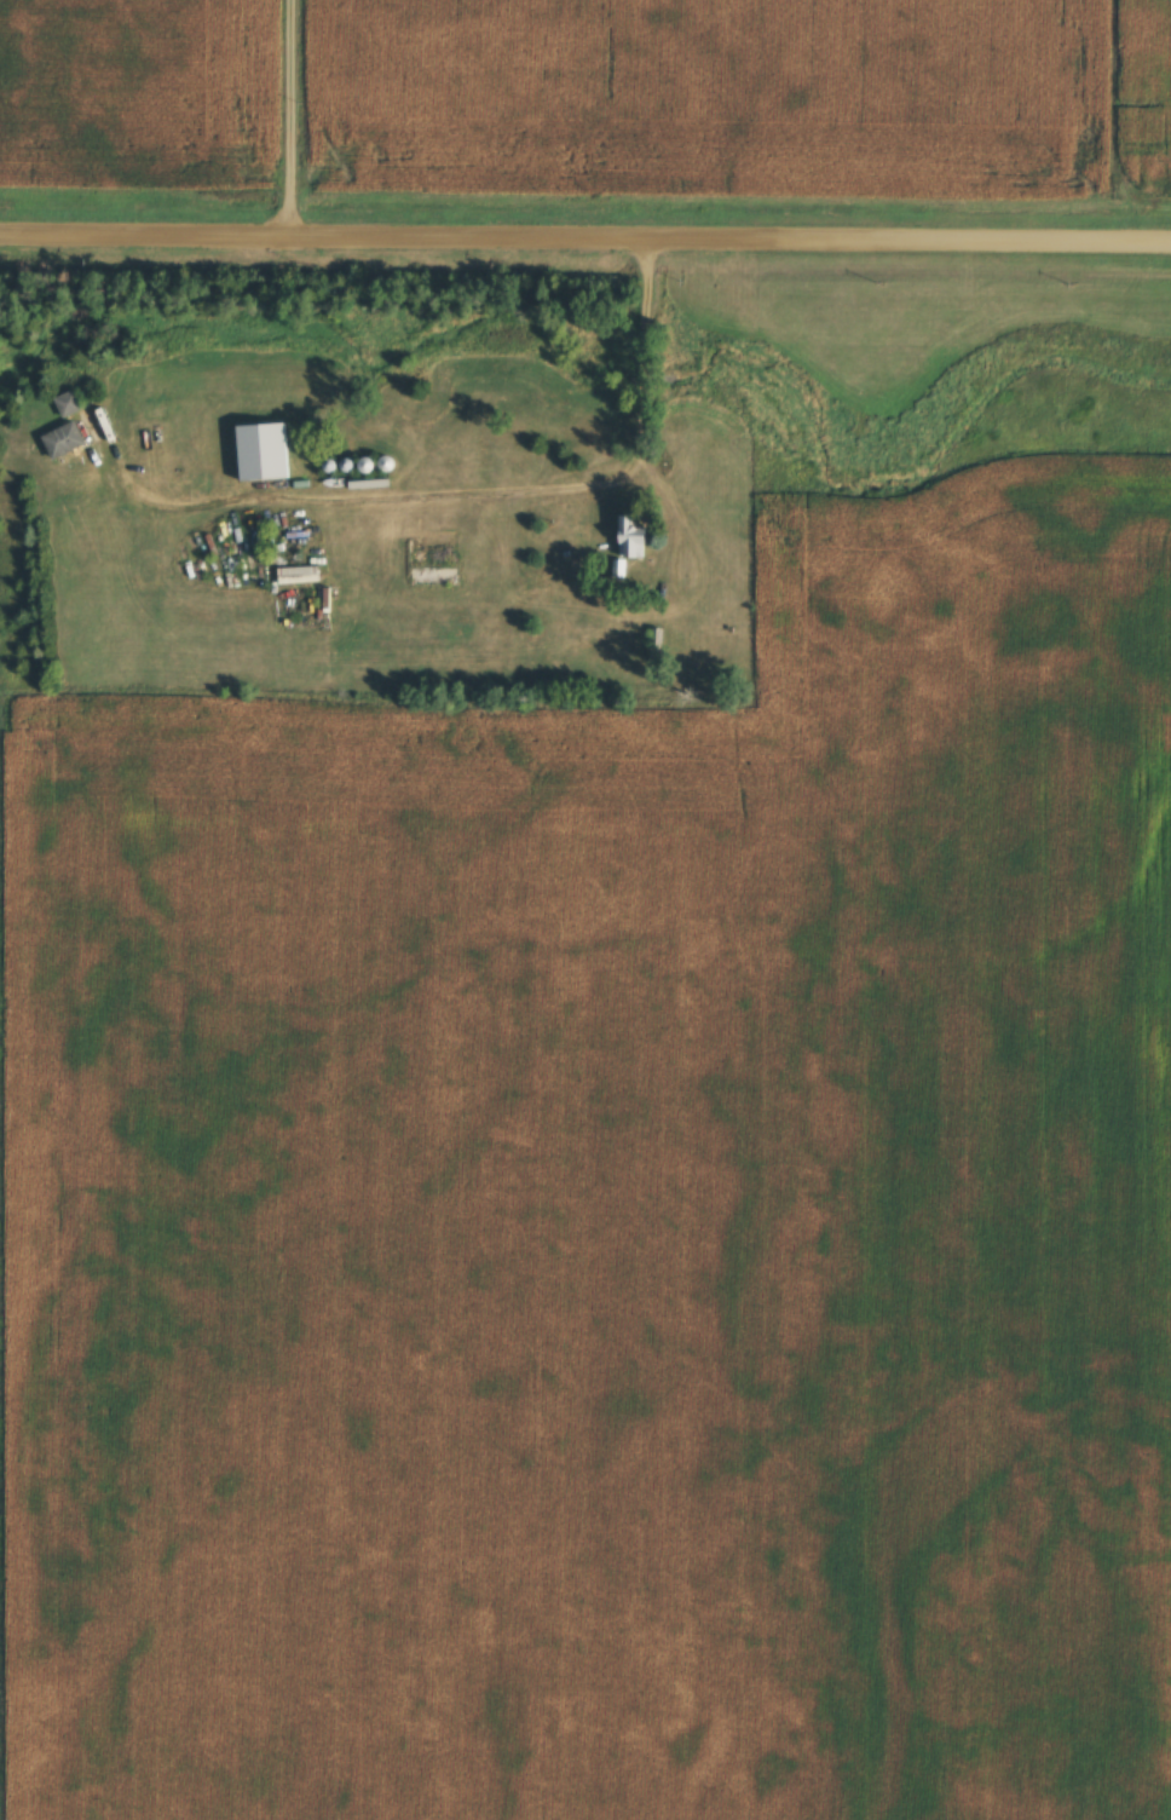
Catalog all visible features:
crop: (1154, 92)
crop: (137, 96)
crop: (716, 100)
road: (293, 119)
road: (584, 241)
road: (640, 376)
building: (71, 403)
building: (67, 440)
building: (634, 537)
building: (438, 548)
road: (699, 575)
building: (658, 644)
crop: (617, 1268)
crop: (0, 1792)

